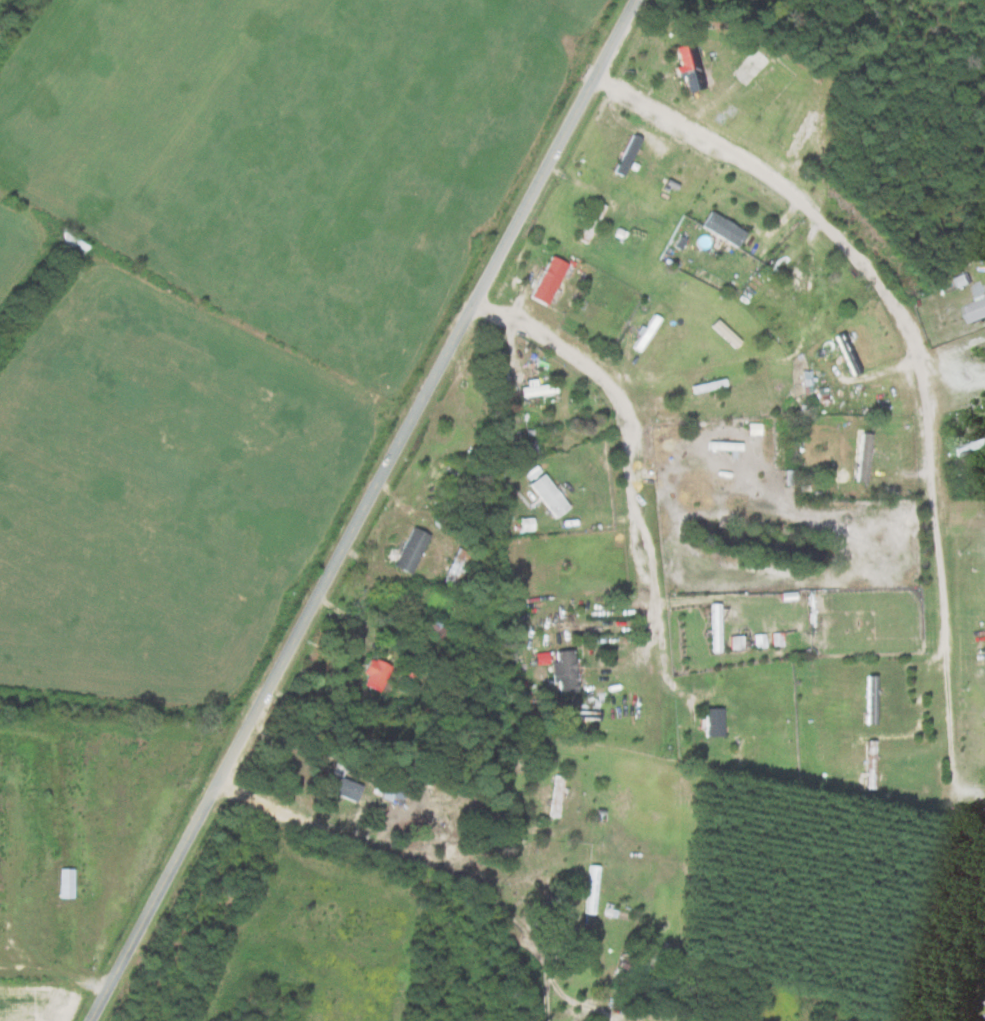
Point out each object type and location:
building: (753, 63)
building: (687, 66)
building: (801, 134)
building: (627, 155)
building: (591, 223)
building: (722, 229)
building: (71, 242)
building: (546, 281)
building: (797, 281)
building: (974, 310)
building: (645, 333)
road: (916, 348)
building: (847, 354)
road: (601, 380)
building: (709, 386)
building: (535, 389)
building: (723, 446)
building: (969, 447)
building: (525, 448)
building: (862, 457)
building: (453, 477)
building: (547, 495)
road: (360, 510)
building: (410, 551)
building: (714, 627)
building: (563, 672)
building: (374, 675)
building: (870, 700)
building: (712, 723)
building: (340, 785)
building: (556, 796)
road: (426, 863)
building: (65, 883)
building: (591, 889)
building: (609, 910)

